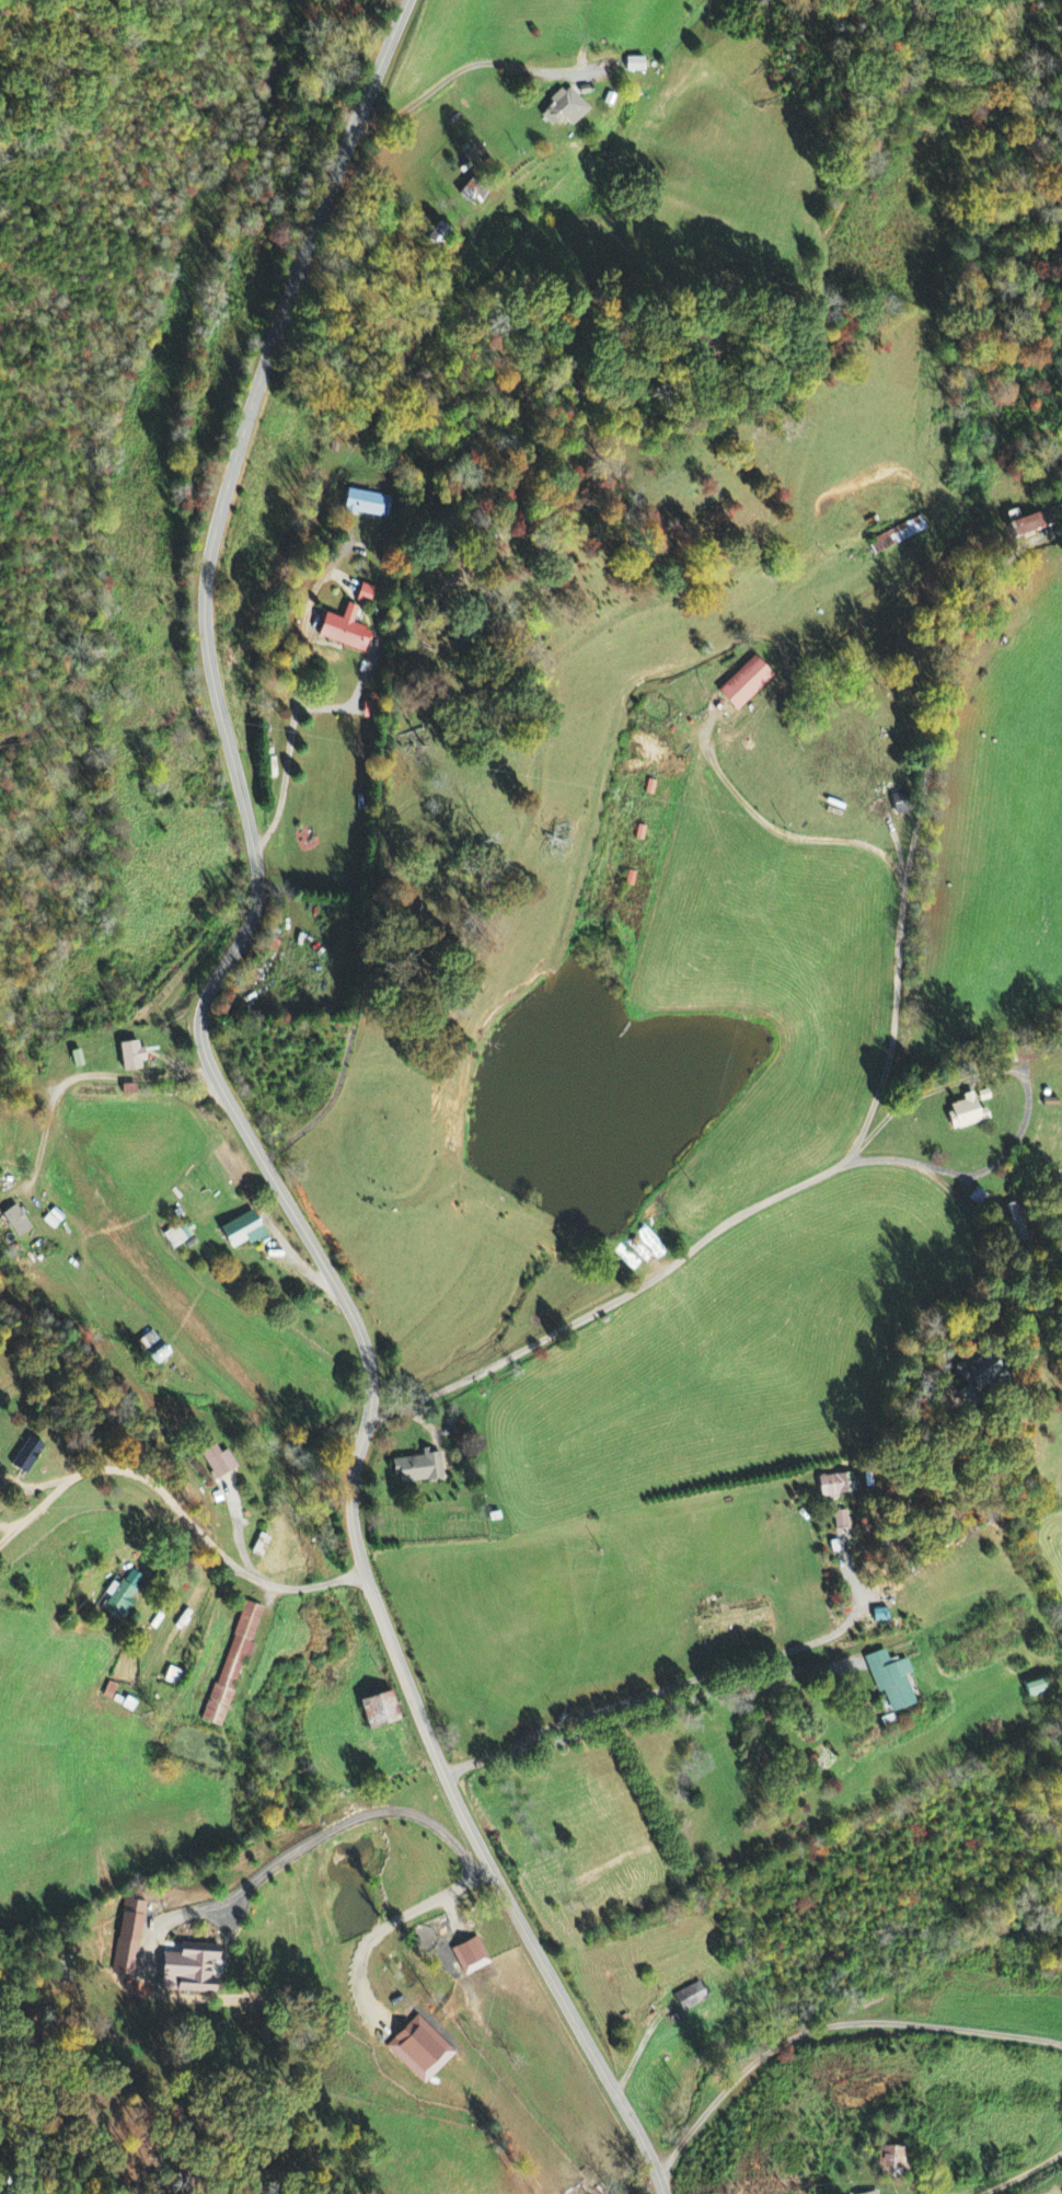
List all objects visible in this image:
building: (633, 66)
building: (563, 109)
building: (430, 236)
building: (366, 505)
building: (1032, 524)
building: (897, 535)
building: (366, 596)
building: (344, 632)
building: (743, 684)
building: (900, 804)
road: (928, 820)
road: (796, 835)
building: (128, 1056)
building: (73, 1059)
building: (962, 1113)
road: (244, 1116)
road: (685, 1219)
building: (13, 1222)
building: (239, 1233)
building: (178, 1236)
building: (963, 1371)
building: (20, 1457)
building: (218, 1463)
building: (417, 1469)
building: (833, 1486)
road: (174, 1510)
building: (839, 1521)
building: (120, 1597)
building: (232, 1661)
building: (170, 1677)
building: (889, 1681)
building: (1032, 1690)
road: (665, 1709)
building: (377, 1711)
building: (128, 1938)
building: (469, 1955)
building: (187, 1968)
building: (689, 1997)
road: (824, 2030)
building: (419, 2049)
building: (1061, 2095)
building: (887, 2160)
building: (874, 2193)

